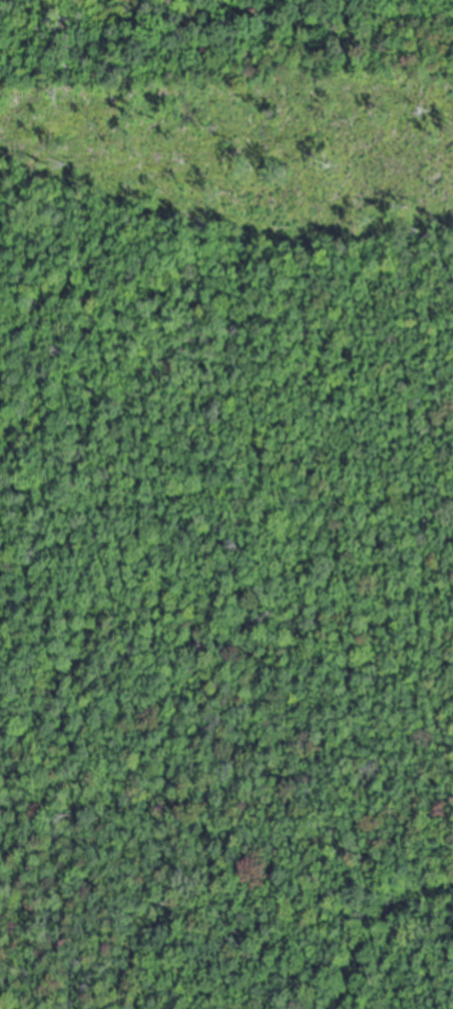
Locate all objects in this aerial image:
road: (376, 930)

